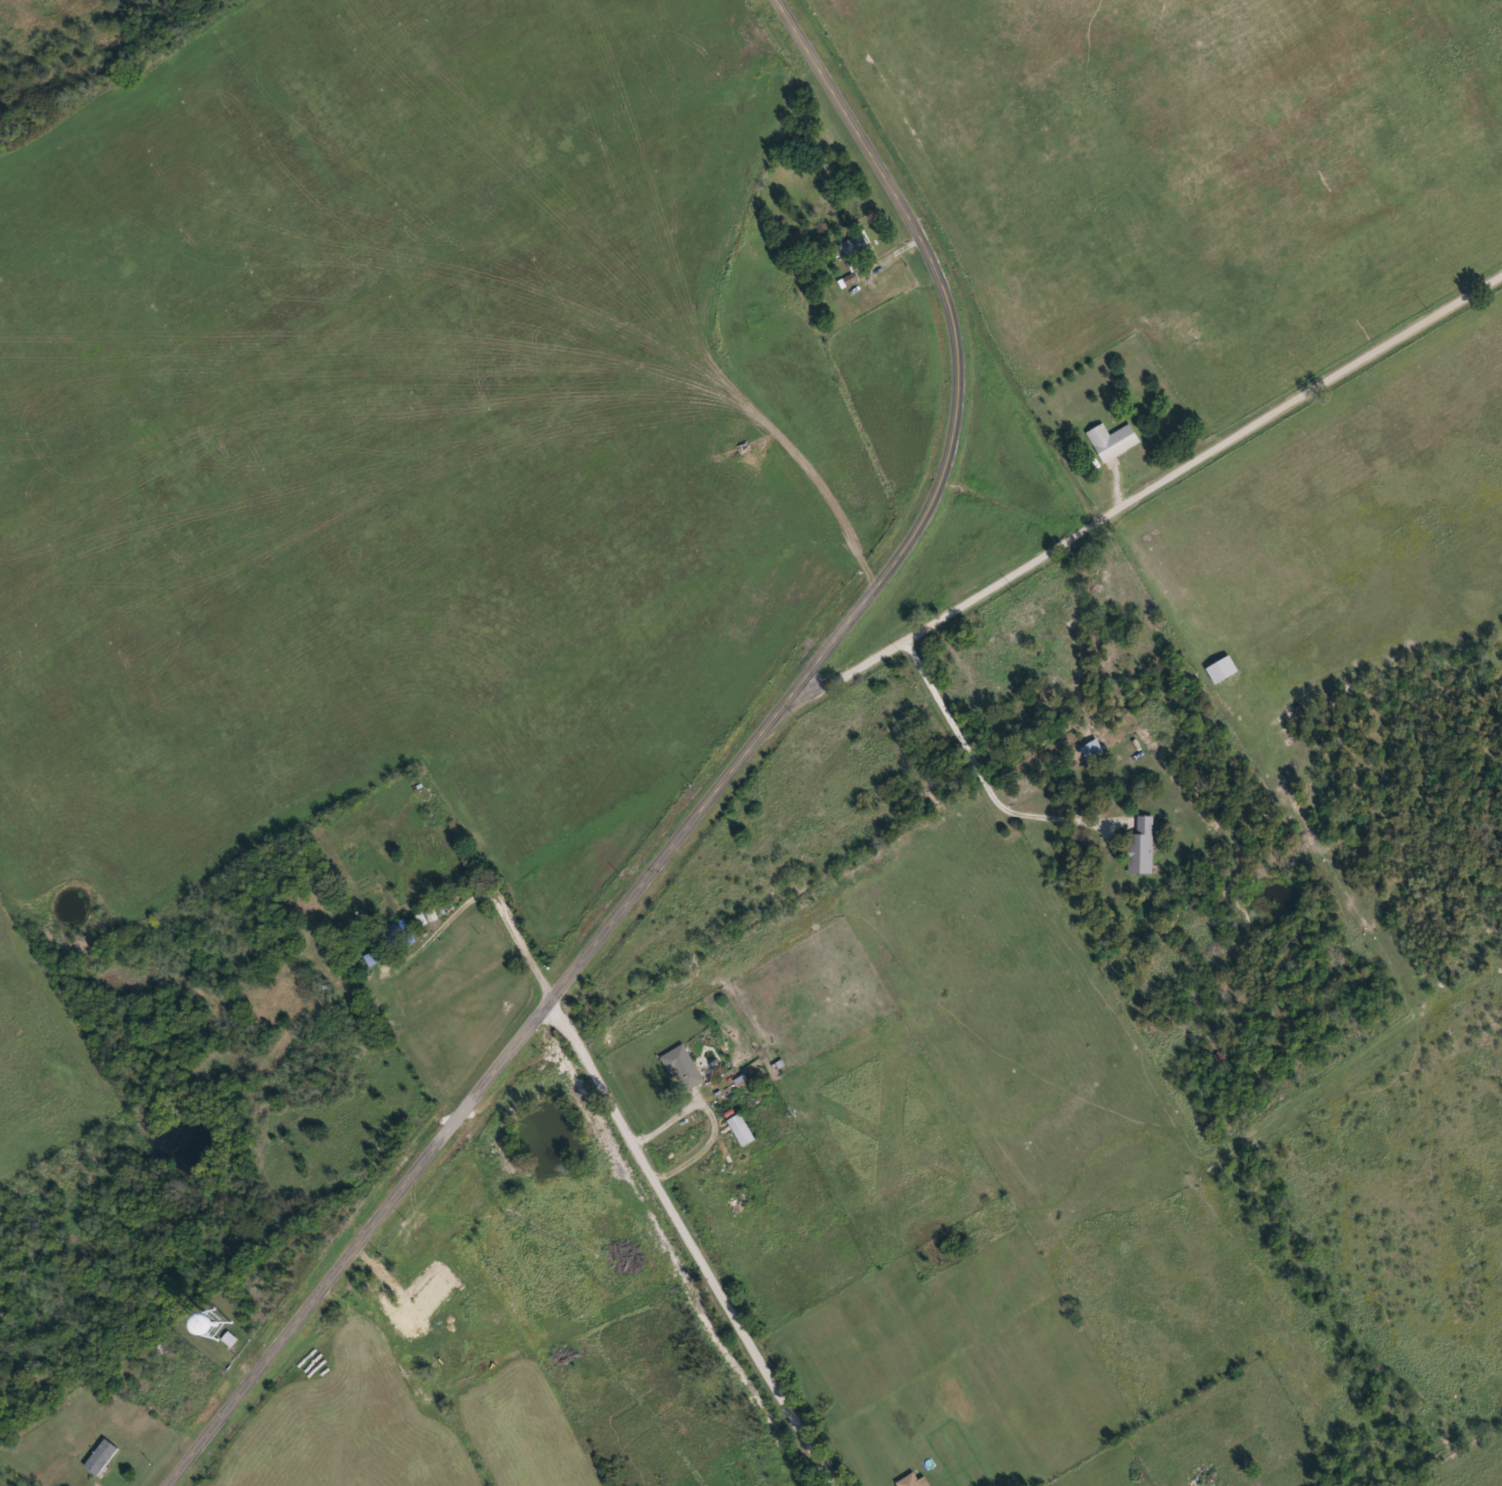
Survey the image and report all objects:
building: (855, 247)
road: (1310, 389)
building: (1112, 441)
road: (1119, 483)
road: (953, 600)
building: (1220, 670)
building: (1092, 750)
road: (977, 767)
road: (715, 779)
building: (1142, 847)
building: (397, 937)
building: (684, 1067)
building: (740, 1129)
road: (636, 1145)
water tower: (219, 1324)
building: (230, 1340)
building: (102, 1458)
building: (913, 1481)

